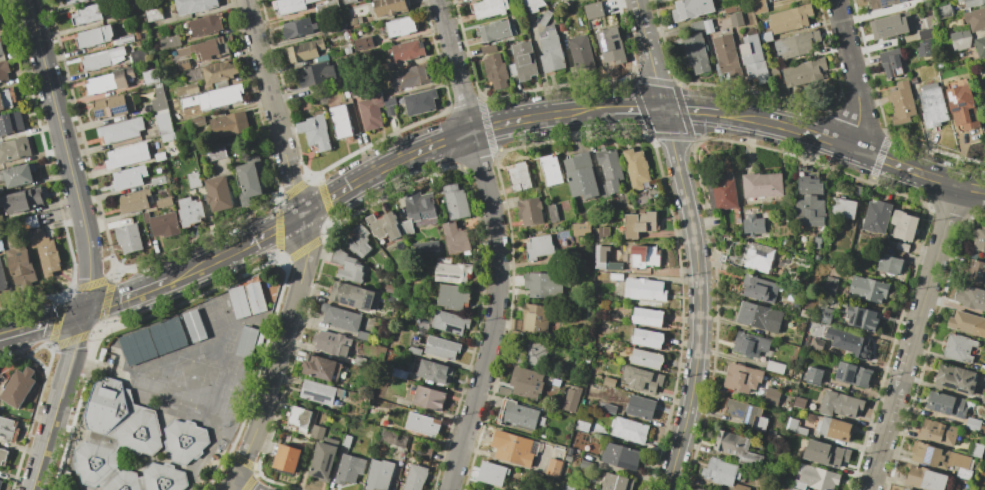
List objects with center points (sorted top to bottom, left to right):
building: (82, 0)
building: (557, 0)
building: (559, 0)
building: (866, 0)
building: (959, 0)
building: (70, 1)
building: (349, 1)
building: (974, 2)
building: (883, 3)
building: (193, 5)
building: (328, 5)
building: (533, 5)
building: (760, 5)
building: (731, 6)
building: (290, 7)
building: (390, 7)
building: (490, 8)
building: (594, 8)
building: (691, 9)
building: (945, 11)
building: (153, 13)
building: (87, 15)
building: (545, 18)
building: (791, 19)
building: (976, 19)
building: (357, 20)
building: (736, 20)
building: (591, 23)
building: (206, 25)
building: (708, 25)
building: (337, 26)
building: (697, 26)
building: (889, 26)
building: (401, 27)
building: (298, 28)
building: (494, 31)
building: (924, 35)
building: (93, 36)
building: (137, 36)
building: (766, 37)
building: (124, 39)
building: (960, 39)
building: (170, 42)
rooftop solar panel: (604, 42)
building: (362, 43)
building: (611, 45)
building: (795, 45)
building: (208, 47)
building: (980, 47)
building: (1, 48)
building: (924, 48)
building: (489, 49)
building: (551, 49)
building: (305, 51)
building: (407, 51)
building: (581, 53)
building: (696, 53)
building: (726, 54)
building: (139, 56)
building: (322, 58)
building: (102, 59)
building: (754, 59)
building: (523, 61)
building: (892, 62)
building: (183, 65)
building: (4, 71)
building: (219, 71)
building: (495, 71)
building: (804, 71)
road: (854, 73)
building: (316, 75)
building: (409, 76)
building: (150, 77)
building: (914, 80)
building: (109, 81)
building: (982, 82)
building: (191, 89)
building: (345, 91)
building: (224, 96)
building: (7, 99)
building: (159, 99)
building: (420, 101)
building: (902, 103)
building: (962, 104)
building: (390, 105)
building: (933, 105)
building: (113, 107)
road: (633, 109)
building: (371, 110)
traffic signals: (662, 110)
road: (690, 110)
rooftop solar panel: (119, 111)
rooftop solar panel: (99, 113)
building: (183, 115)
building: (341, 121)
building: (198, 122)
building: (11, 123)
building: (164, 124)
building: (227, 125)
building: (122, 131)
building: (315, 132)
building: (976, 138)
road: (852, 148)
building: (14, 150)
building: (216, 152)
road: (65, 155)
building: (127, 156)
building: (161, 157)
building: (261, 167)
building: (636, 168)
building: (610, 169)
building: (550, 170)
road: (377, 171)
building: (18, 175)
building: (581, 175)
building: (129, 177)
building: (519, 177)
building: (159, 180)
building: (194, 180)
building: (249, 181)
building: (762, 186)
building: (809, 186)
building: (723, 192)
building: (219, 193)
building: (24, 200)
building: (135, 202)
building: (165, 202)
building: (455, 202)
building: (843, 208)
building: (417, 210)
building: (531, 211)
building: (810, 211)
building: (190, 212)
building: (552, 213)
building: (876, 216)
building: (163, 224)
building: (640, 224)
building: (383, 225)
building: (580, 228)
building: (904, 229)
building: (562, 235)
building: (129, 238)
building: (456, 238)
building: (979, 240)
building: (359, 241)
road: (693, 243)
road: (498, 244)
building: (1, 245)
building: (426, 246)
building: (539, 247)
road: (305, 249)
building: (45, 252)
building: (642, 255)
building: (599, 257)
building: (760, 257)
building: (21, 264)
building: (889, 265)
building: (347, 266)
building: (616, 267)
building: (451, 271)
building: (976, 272)
building: (616, 277)
building: (2, 278)
building: (830, 283)
building: (544, 284)
building: (390, 289)
building: (645, 289)
building: (759, 289)
building: (868, 289)
building: (352, 296)
building: (452, 297)
road: (125, 298)
building: (973, 298)
traffic signals: (83, 313)
building: (826, 315)
building: (759, 316)
building: (648, 317)
building: (340, 318)
building: (862, 318)
building: (536, 319)
rooftop solar panel: (852, 319)
rooftop solar panel: (860, 320)
building: (191, 322)
building: (450, 323)
building: (967, 323)
road: (41, 325)
building: (422, 325)
building: (362, 336)
road: (916, 336)
building: (647, 338)
building: (246, 341)
building: (330, 343)
building: (750, 344)
building: (852, 344)
building: (816, 345)
building: (442, 348)
building: (959, 348)
building: (414, 351)
building: (534, 353)
road: (71, 355)
building: (646, 359)
building: (359, 361)
building: (775, 367)
building: (321, 368)
building: (433, 372)
building: (813, 375)
rooftop solar panel: (840, 375)
building: (853, 375)
rooftop solar panel: (851, 377)
building: (742, 378)
rooftop solar panel: (959, 378)
building: (642, 379)
building: (956, 379)
rooftop solar panel: (971, 380)
building: (609, 382)
building: (526, 383)
rooftop solar panel: (950, 385)
building: (395, 386)
building: (18, 387)
rooftop solar panel: (972, 388)
building: (503, 391)
building: (320, 392)
rooftop solar panel: (964, 392)
building: (772, 396)
building: (427, 397)
rooftop solar panel: (316, 398)
building: (572, 399)
building: (799, 403)
building: (839, 404)
building: (946, 404)
building: (641, 407)
rooftop solar panel: (938, 408)
building: (610, 409)
rooftop solar panel: (947, 411)
building: (746, 414)
rooftop solar panel: (960, 414)
building: (518, 415)
rooftop solar panel: (748, 415)
building: (299, 418)
building: (423, 424)
building: (973, 424)
building: (582, 426)
building: (795, 426)
building: (834, 429)
building: (8, 430)
building: (629, 430)
building: (317, 432)
building: (938, 432)
building: (393, 438)
building: (346, 440)
building: (184, 441)
building: (121, 442)
road: (44, 443)
building: (513, 446)
building: (736, 449)
building: (976, 450)
building: (427, 451)
building: (825, 454)
building: (3, 455)
building: (621, 456)
rooftop solar panel: (929, 456)
building: (939, 457)
building: (287, 458)
rooftop solar panel: (750, 459)
building: (323, 461)
building: (585, 465)
building: (349, 469)
building: (723, 472)
building: (492, 473)
building: (963, 473)
building: (379, 475)
building: (416, 477)
building: (816, 479)
building: (925, 479)
building: (616, 482)
building: (0, 483)
road: (239, 483)
building: (569, 486)
building: (740, 487)
building: (696, 489)
building: (700, 489)
building: (794, 489)
building: (906, 489)

